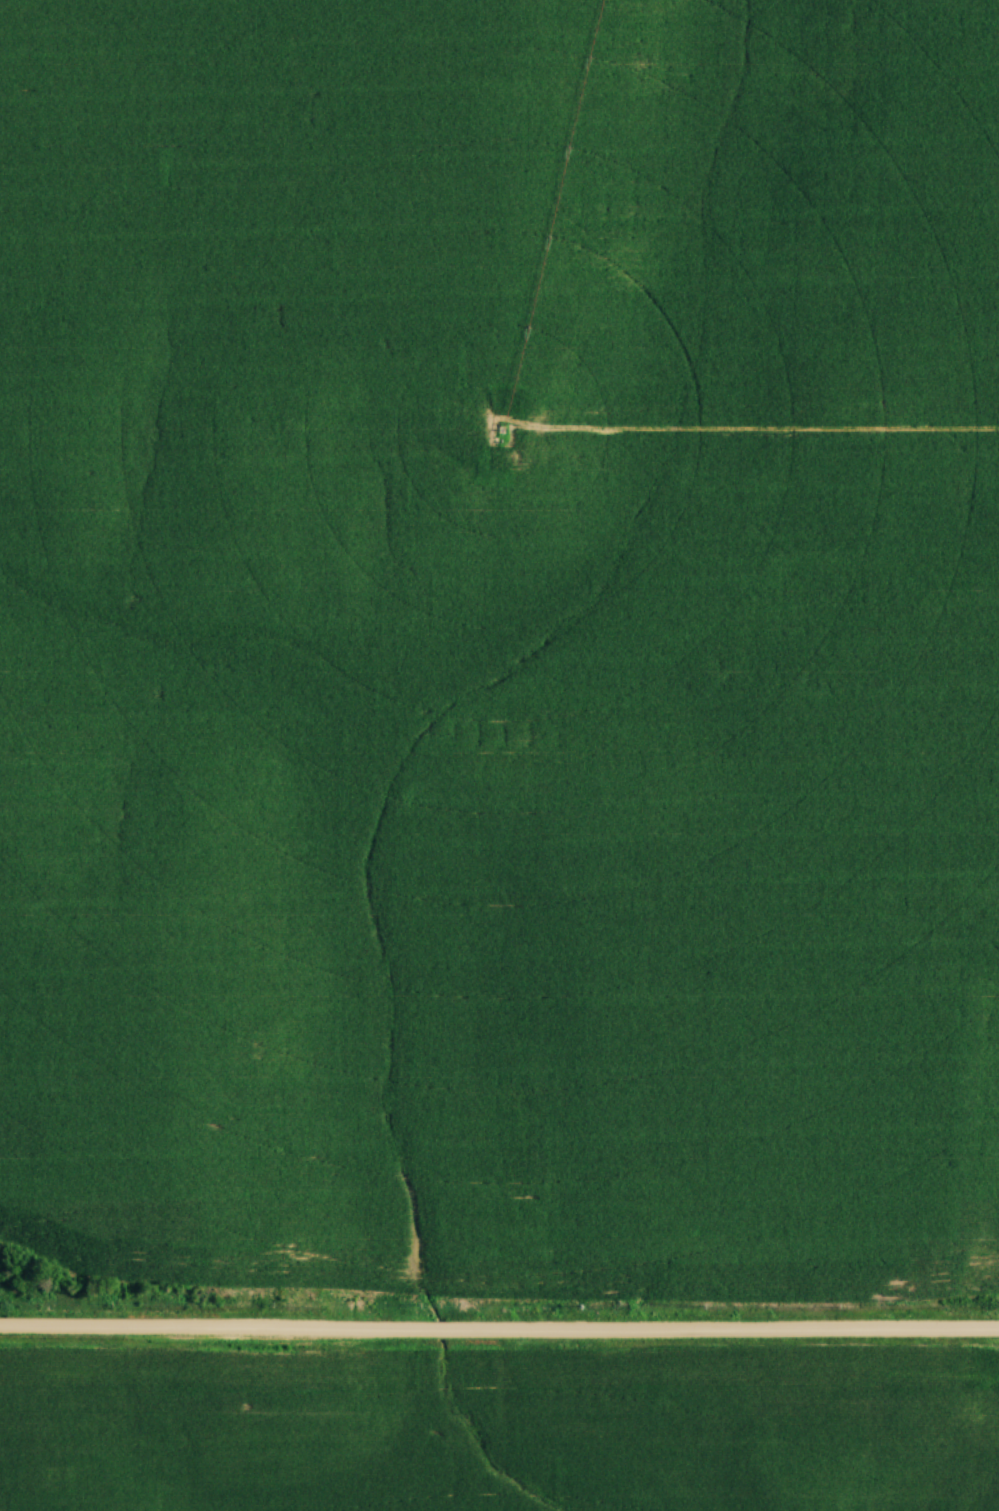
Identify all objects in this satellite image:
crop: (500, 639)
road: (499, 1329)

